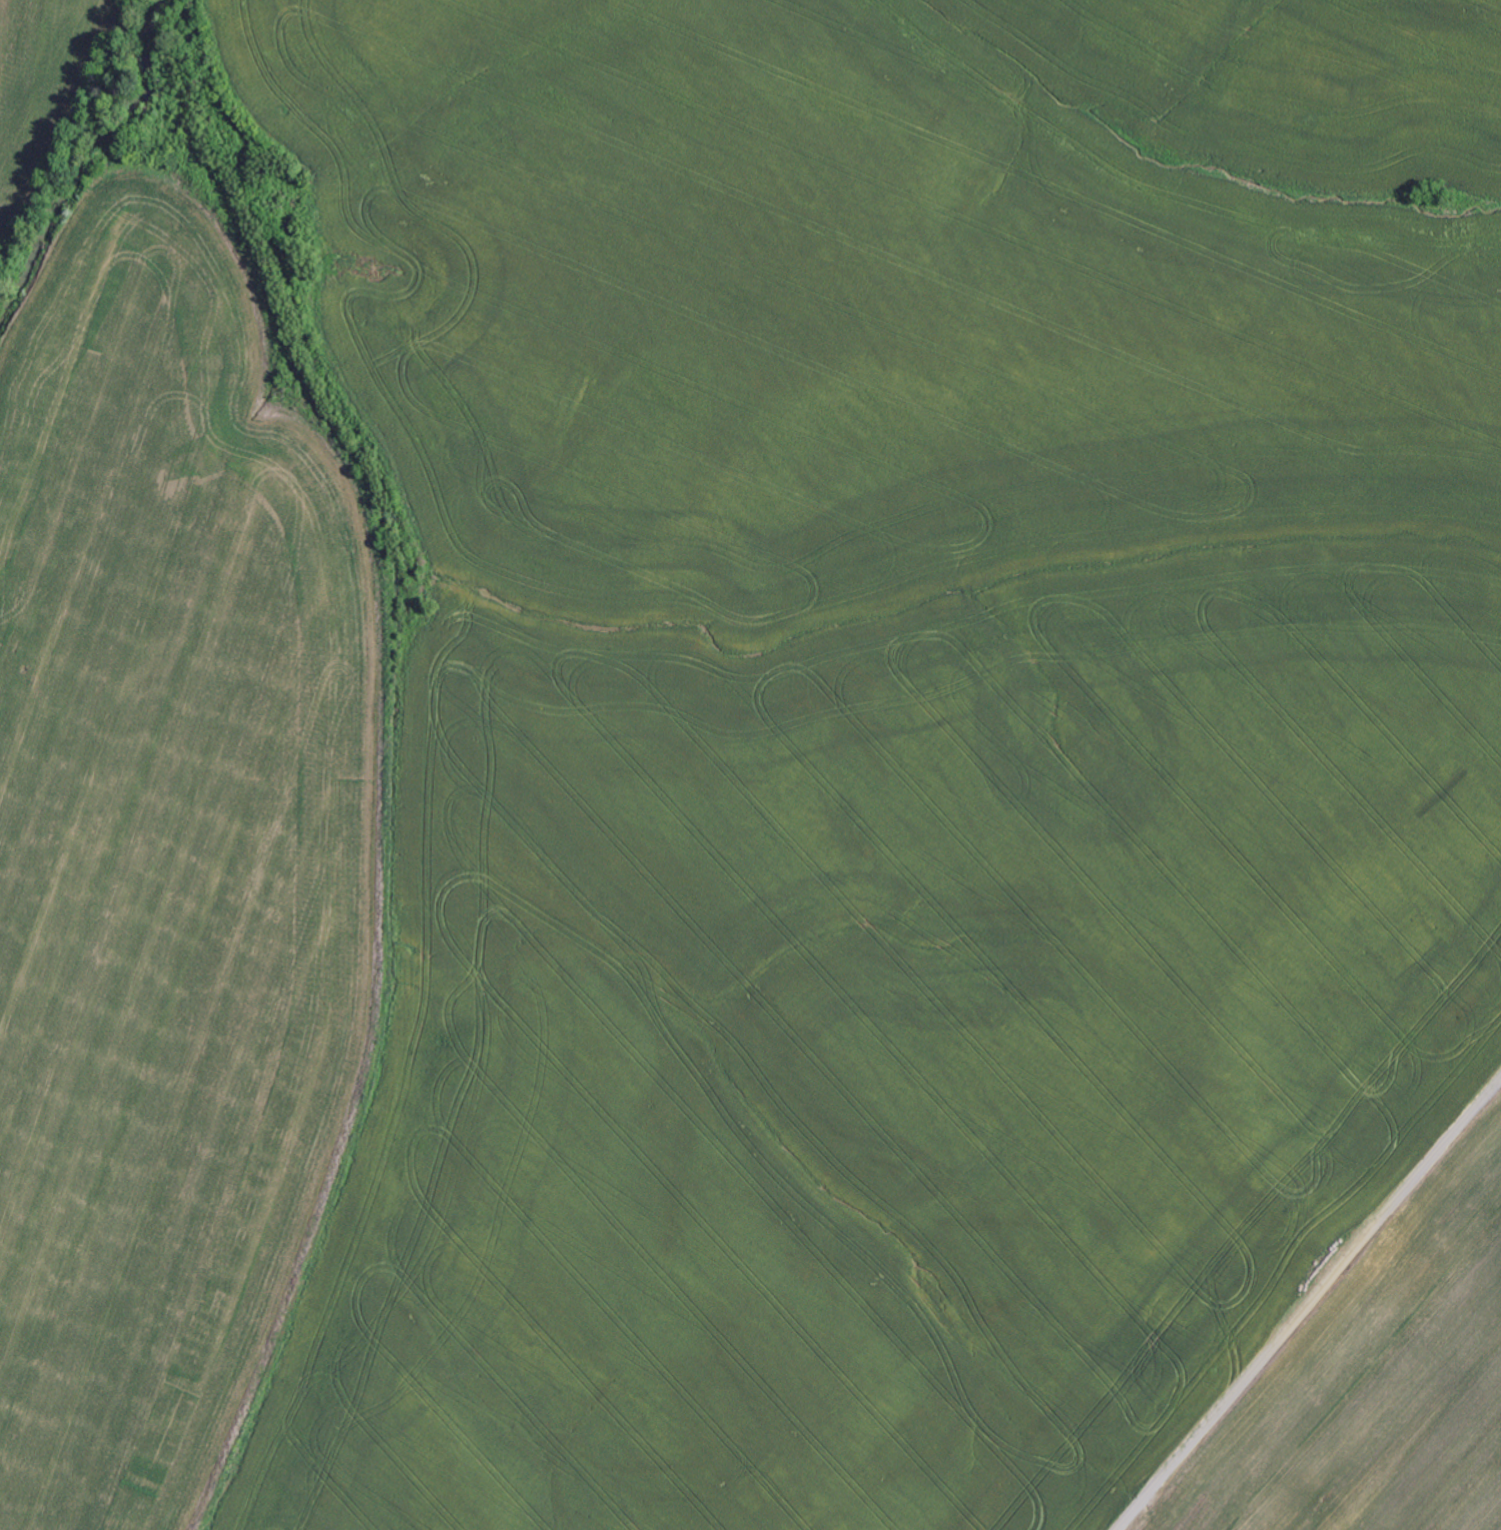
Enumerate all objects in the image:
road: (1308, 1302)

